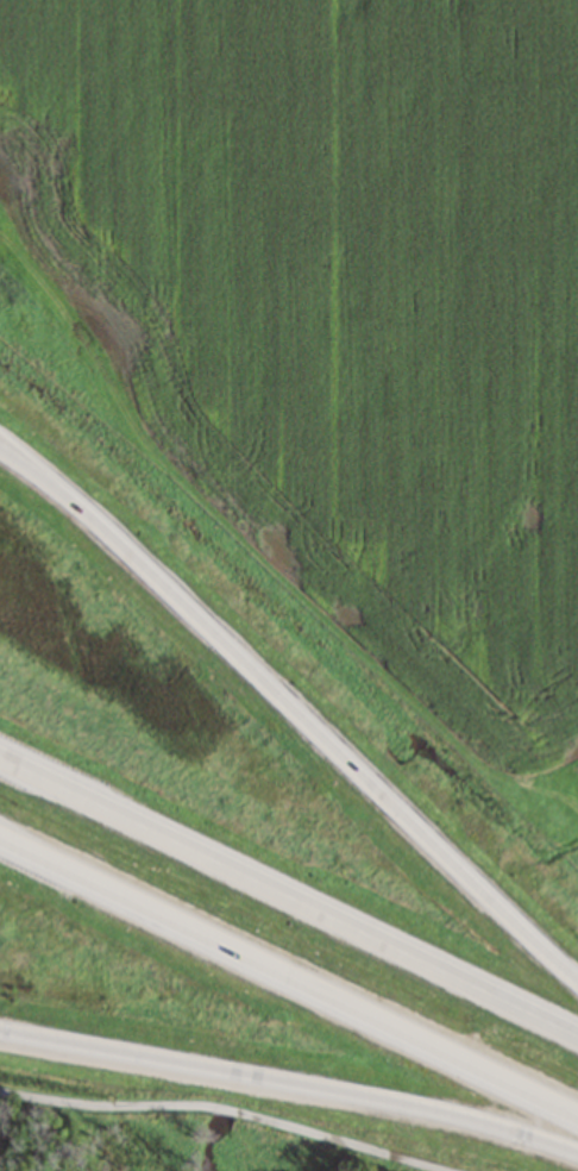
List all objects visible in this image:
road: (293, 710)
road: (285, 906)
road: (287, 985)
road: (290, 1082)
road: (234, 1110)

